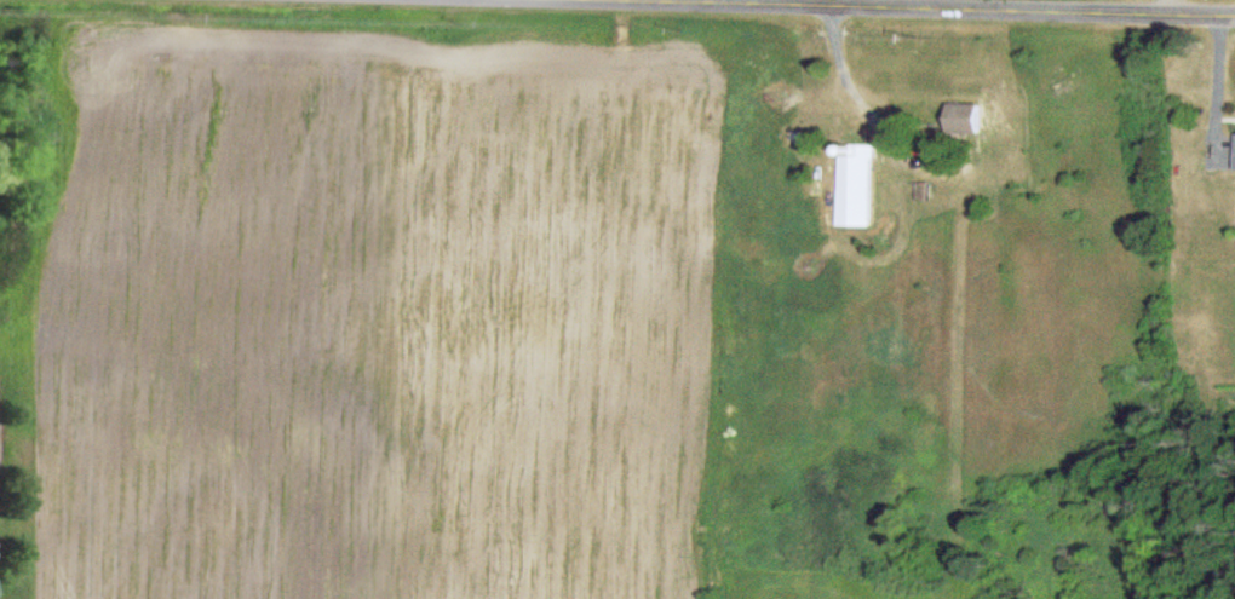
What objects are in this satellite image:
road: (911, 8)
building: (963, 119)
building: (1234, 152)
building: (856, 185)

